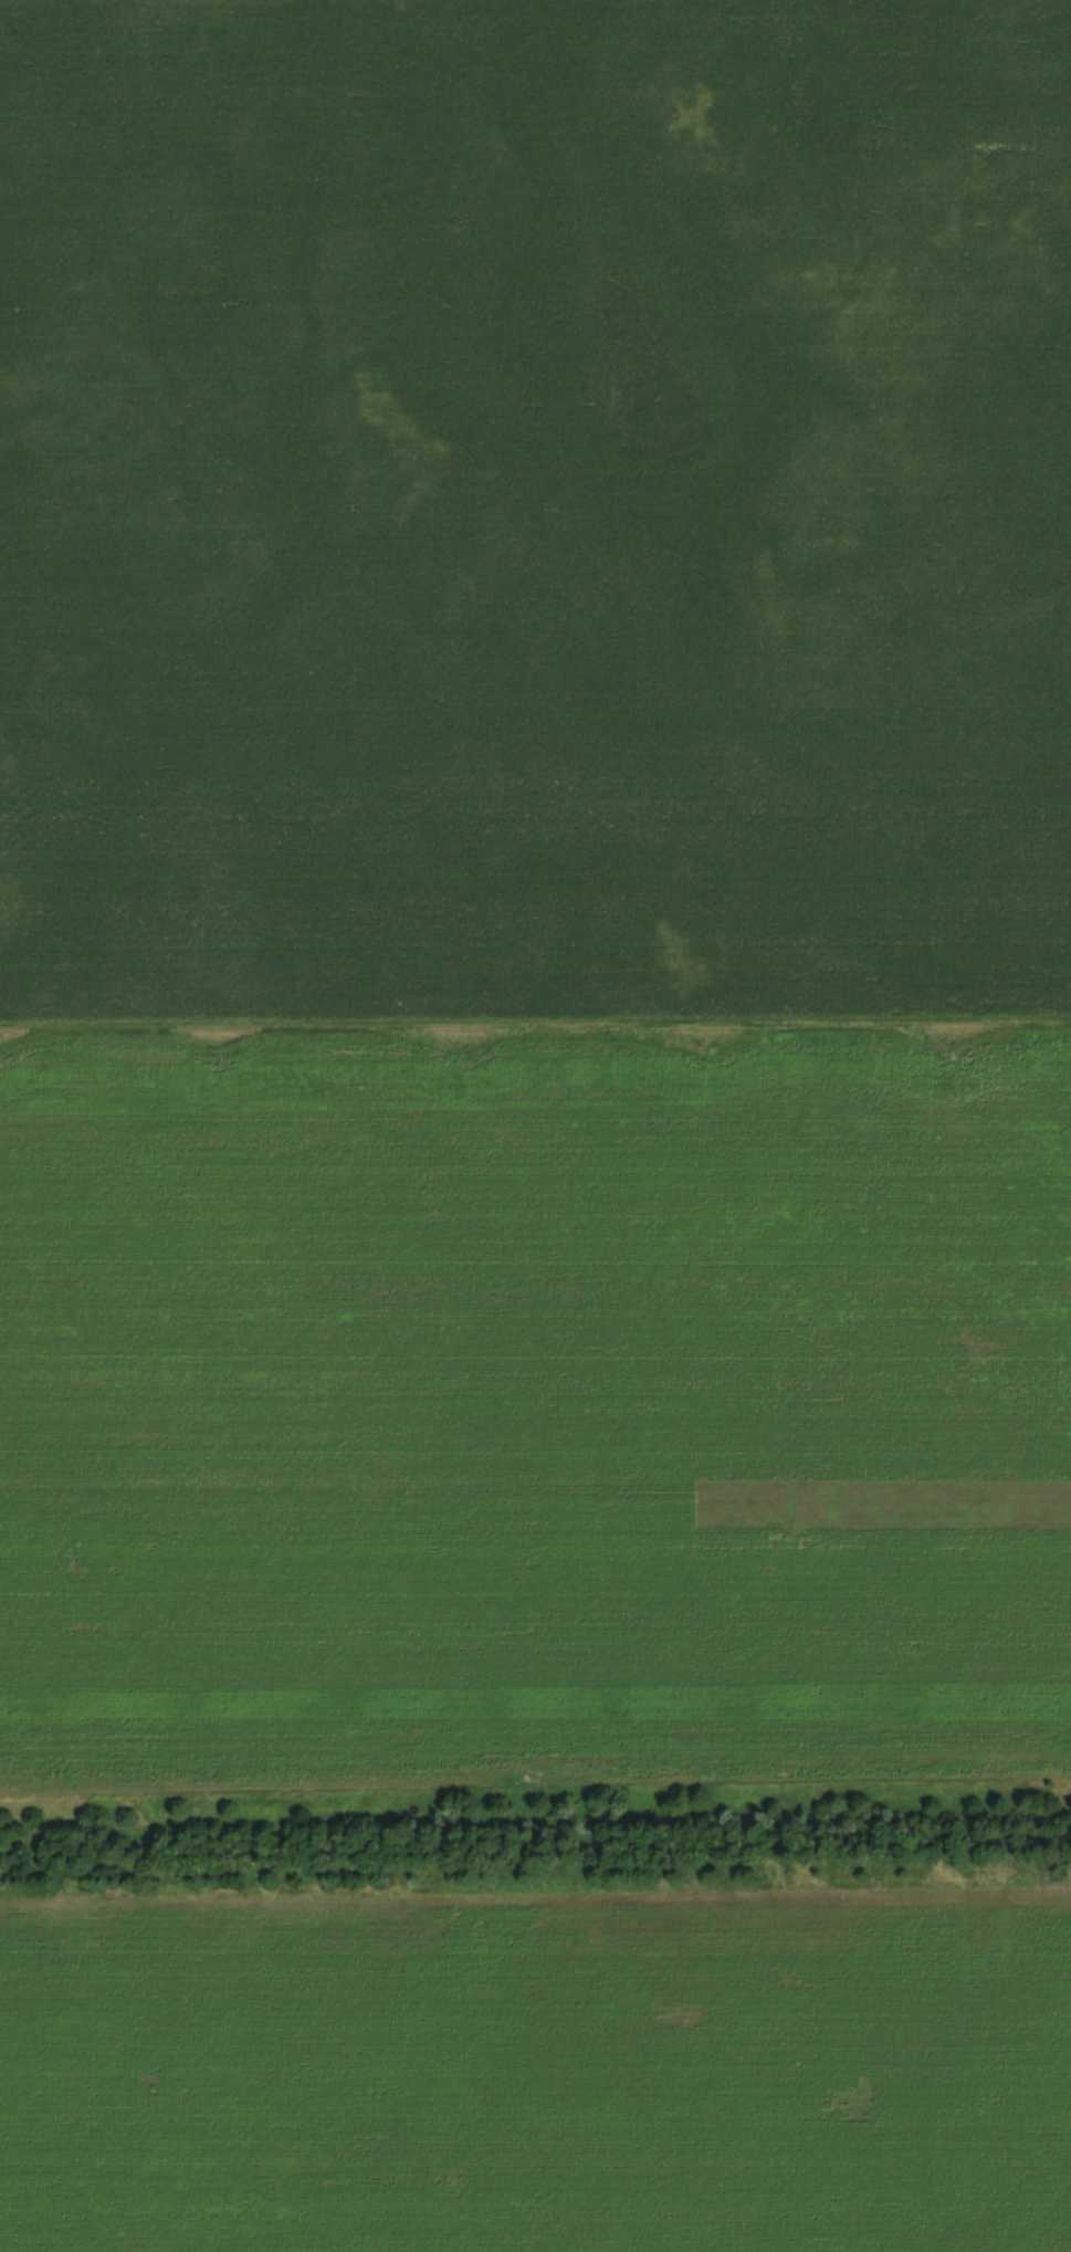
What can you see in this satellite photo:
road: (535, 1003)

